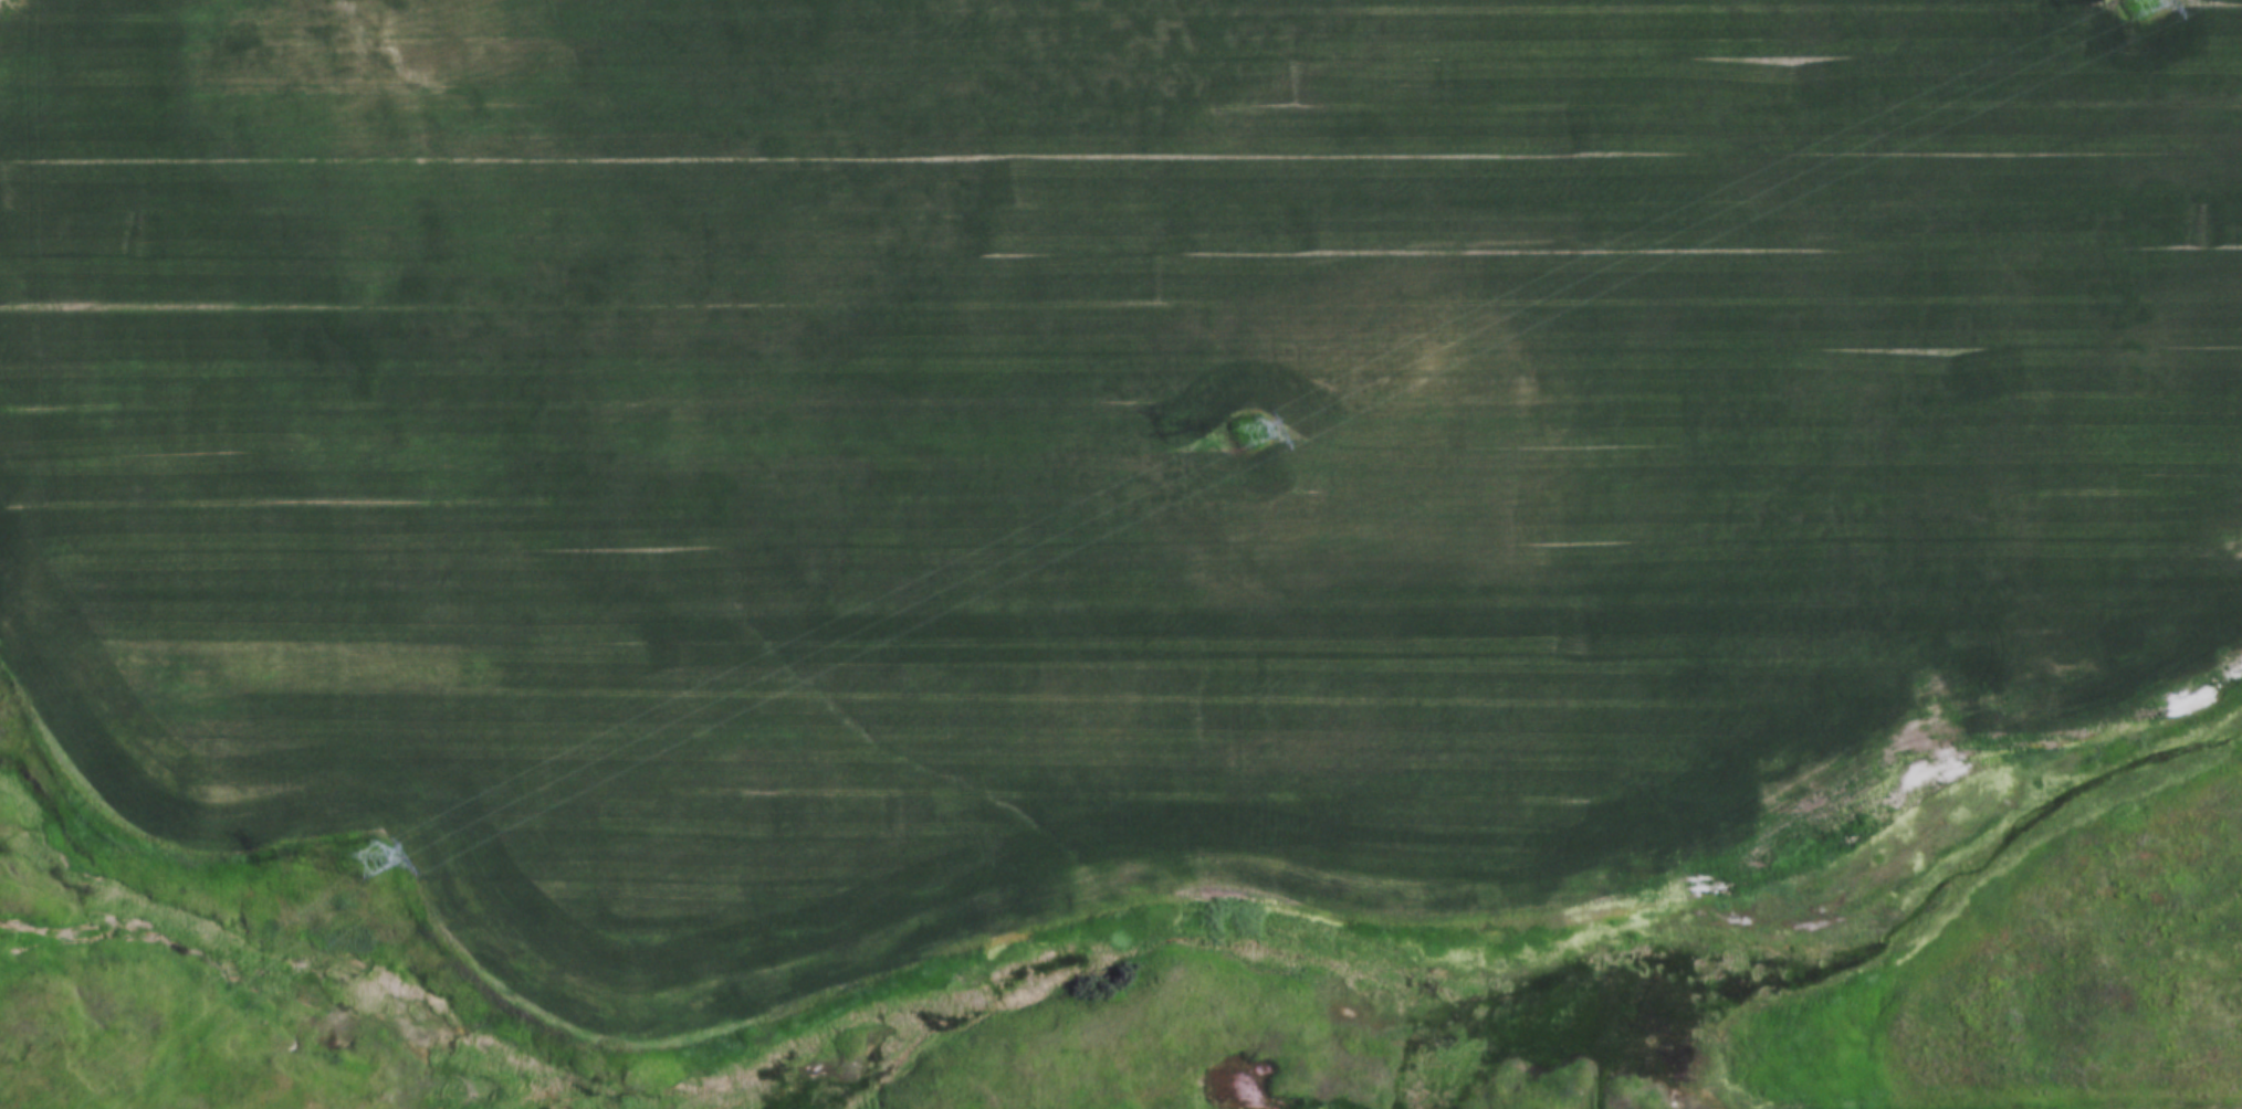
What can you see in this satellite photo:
power tower: (2152, 9)
power tower: (1266, 431)
power tower: (362, 853)

